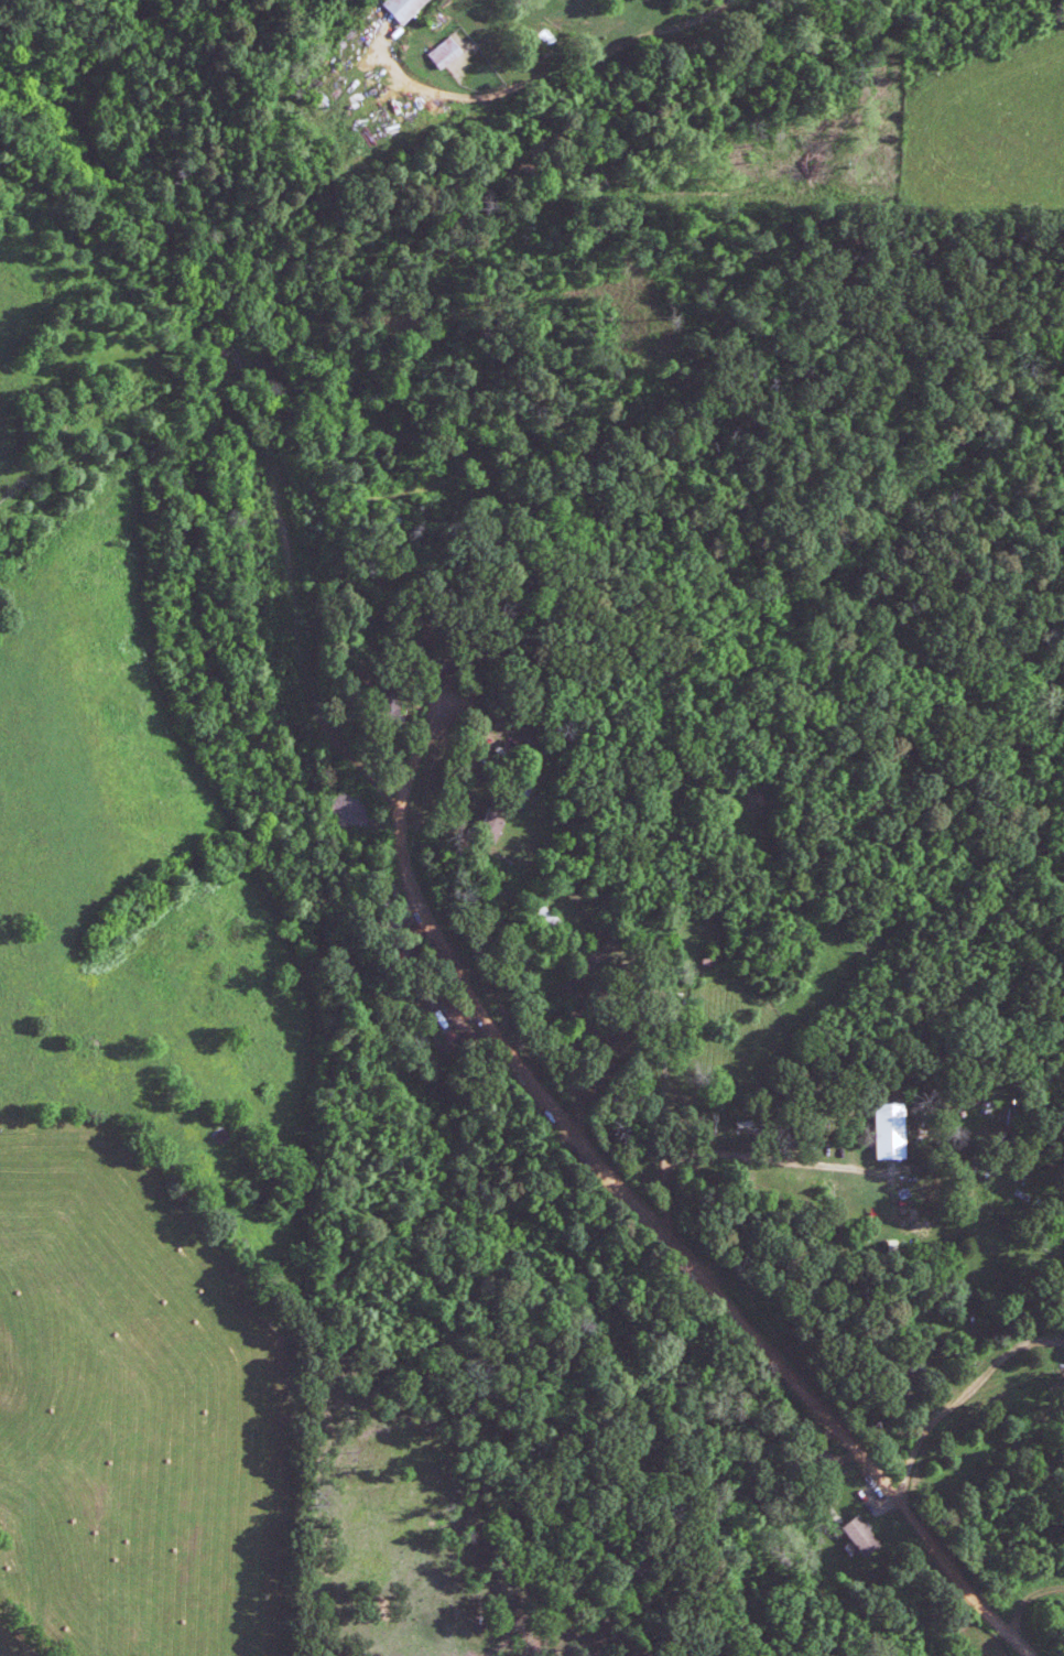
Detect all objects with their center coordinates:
building: (401, 8)
building: (442, 53)
building: (888, 1130)
road: (630, 1198)
road: (957, 1394)
building: (858, 1536)

